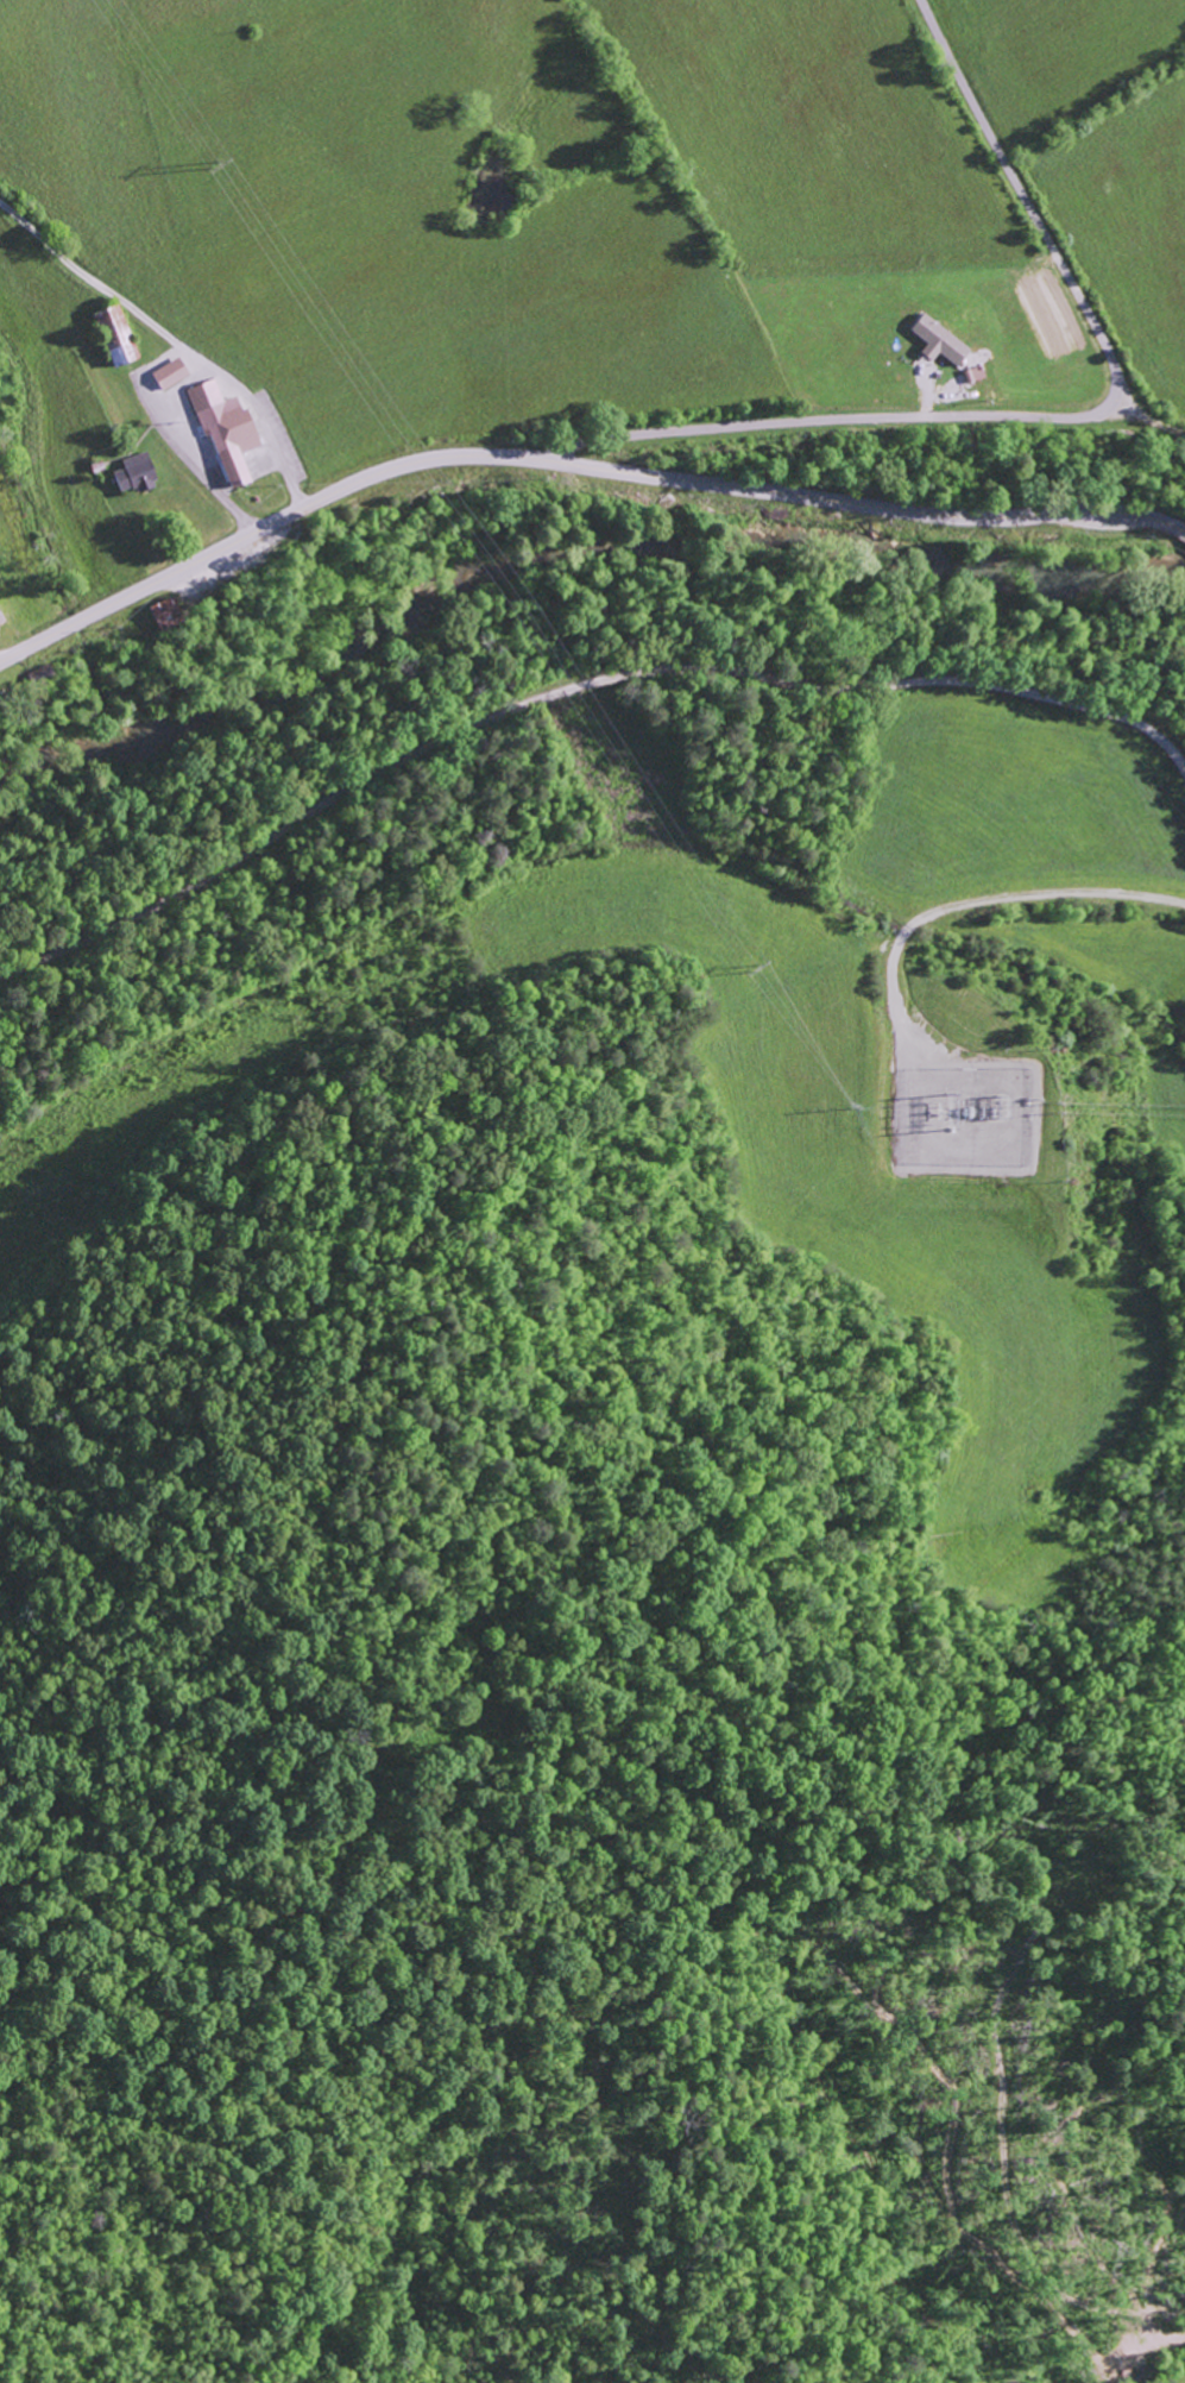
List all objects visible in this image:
power tower: (218, 169)
road: (1025, 195)
building: (111, 333)
road: (170, 339)
building: (935, 339)
building: (166, 373)
road: (830, 419)
building: (222, 430)
road: (1129, 452)
road: (572, 461)
building: (132, 473)
road: (1162, 521)
building: (0, 621)
road: (571, 690)
power tower: (756, 969)
power tower: (858, 1106)
power tower: (956, 1107)
power substation: (971, 1114)
road: (1004, 2174)

